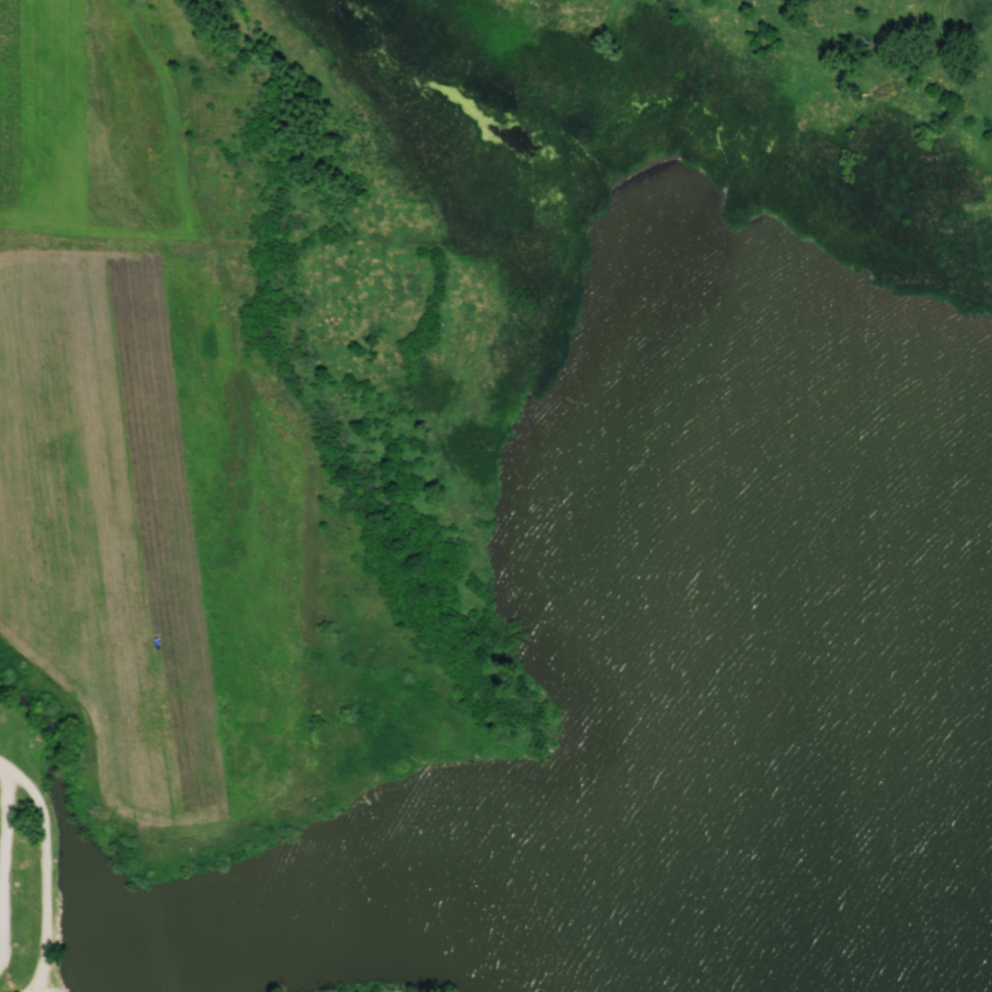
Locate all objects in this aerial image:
road: (3, 837)
road: (44, 872)
park: (478, 890)

